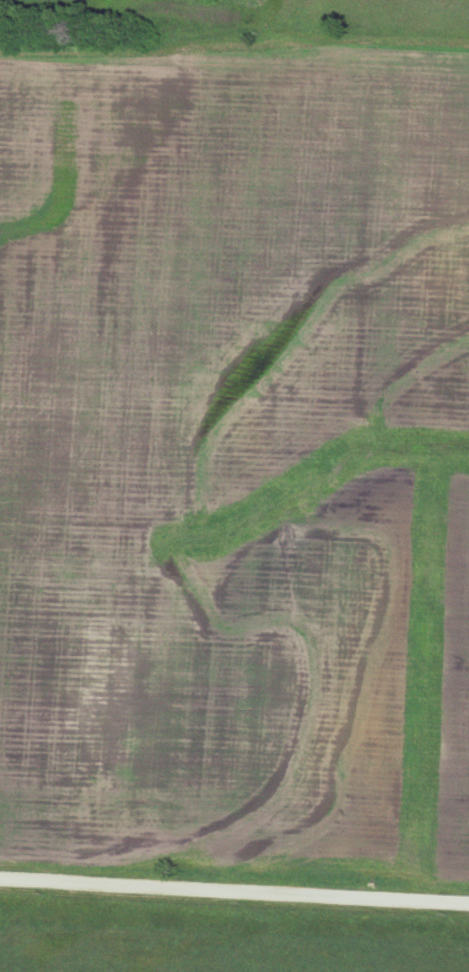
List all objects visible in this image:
road: (234, 892)

